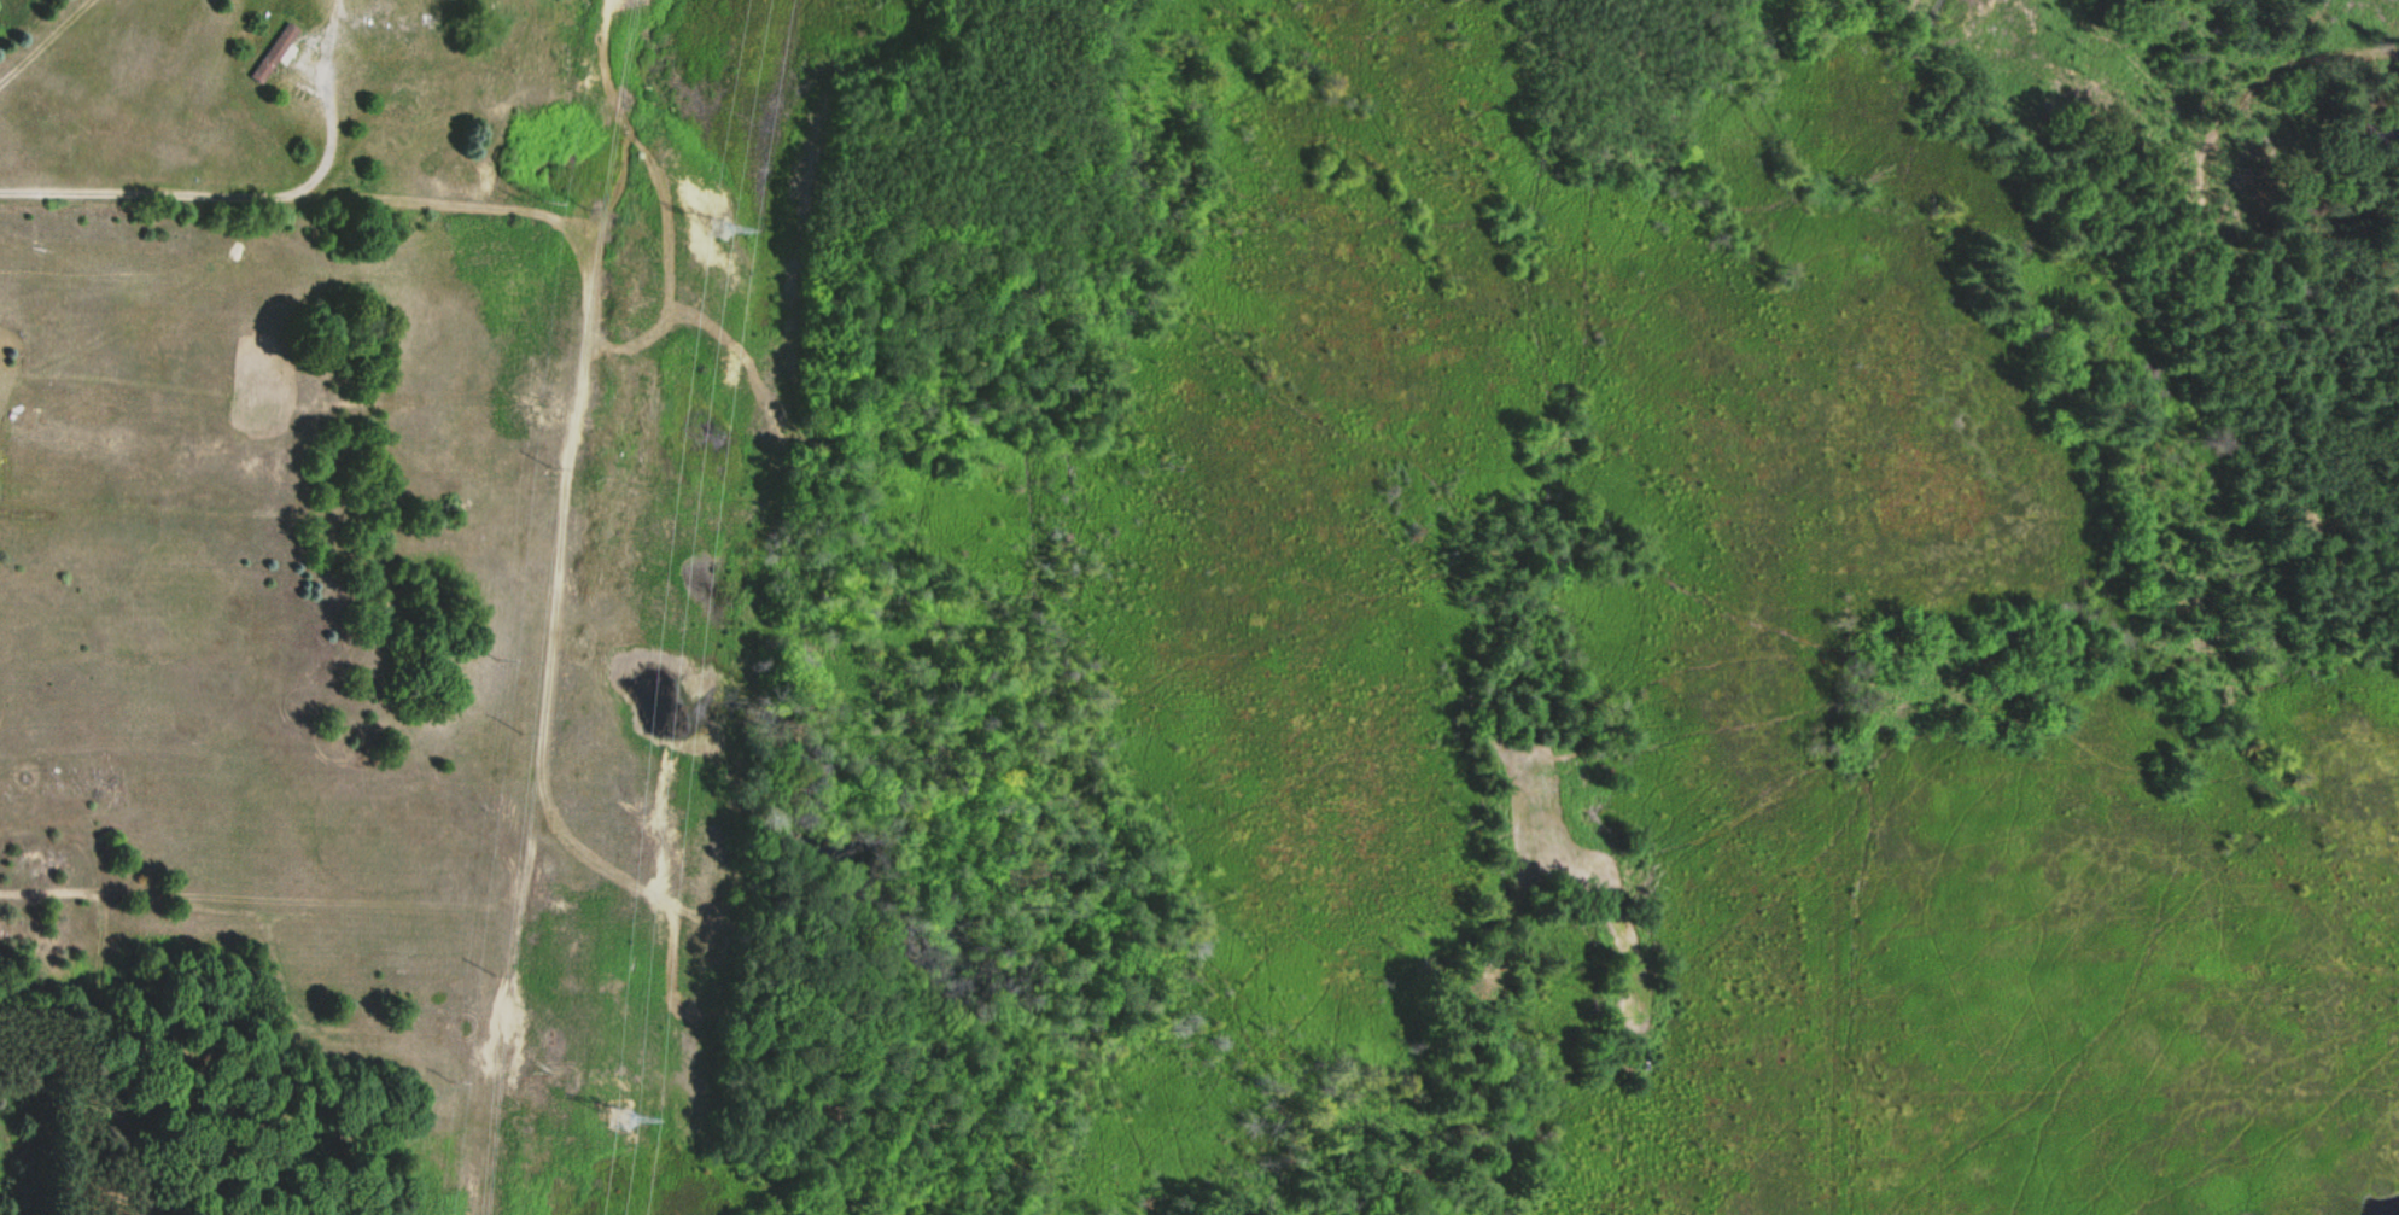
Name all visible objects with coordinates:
building: (275, 52)
power tower: (720, 226)
power tower: (625, 1114)

